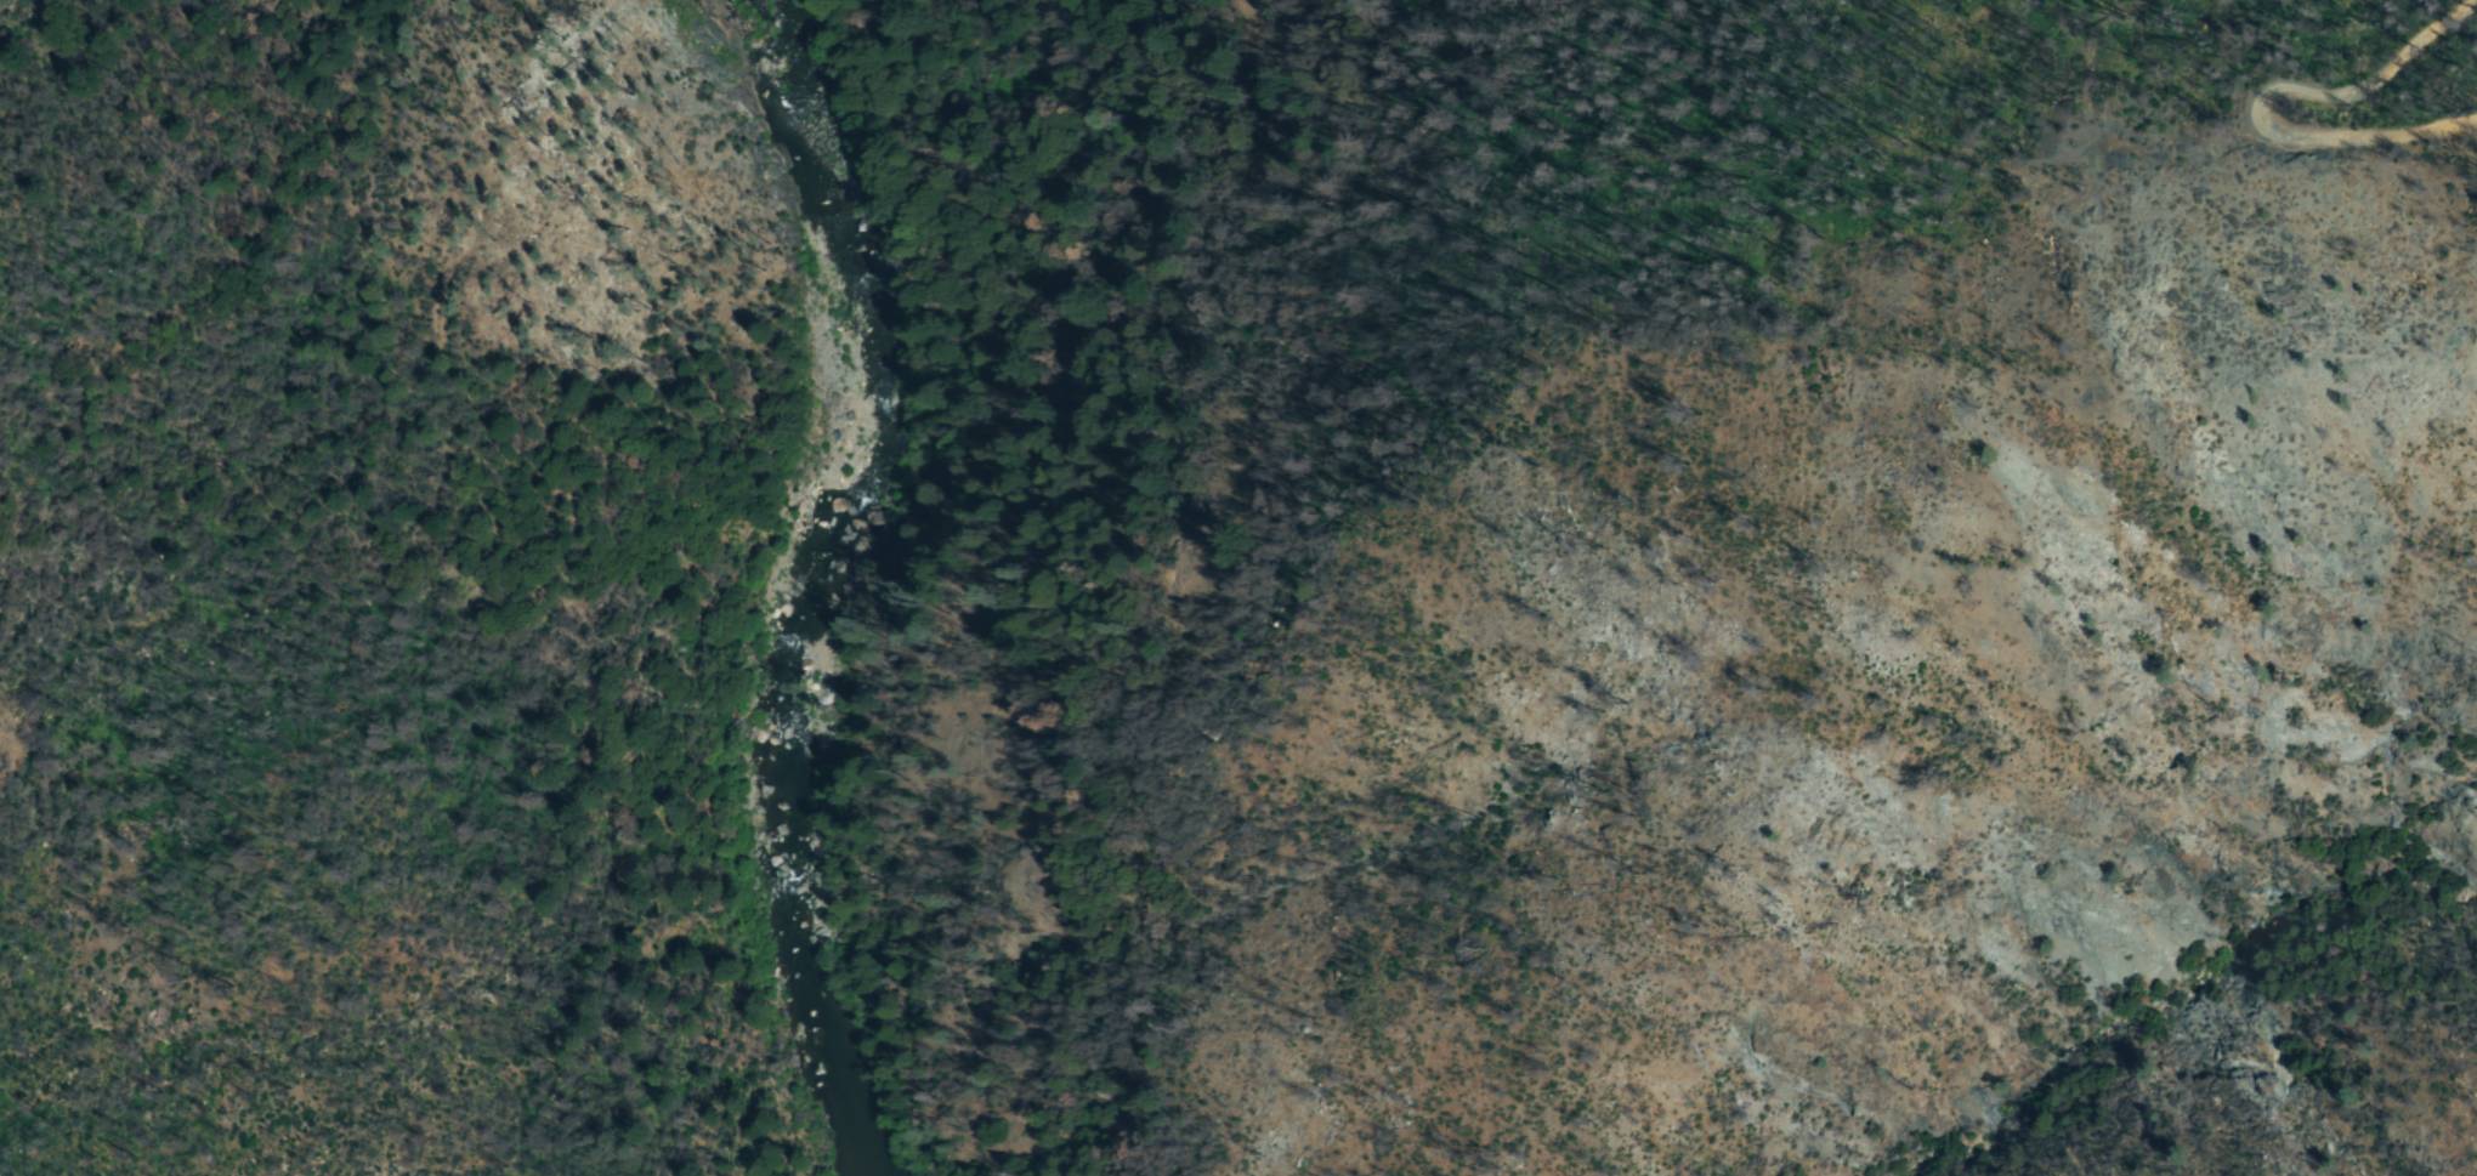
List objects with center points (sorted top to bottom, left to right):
road: (2267, 102)
river: (821, 581)

